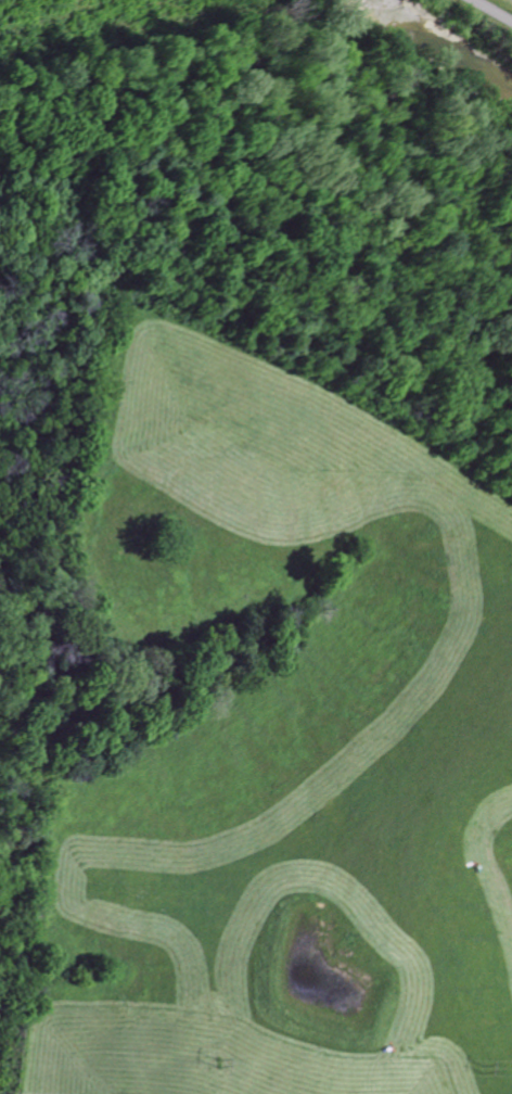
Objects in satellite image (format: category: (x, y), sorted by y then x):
road: (492, 11)
power tower: (219, 1063)
power tower: (484, 1067)

